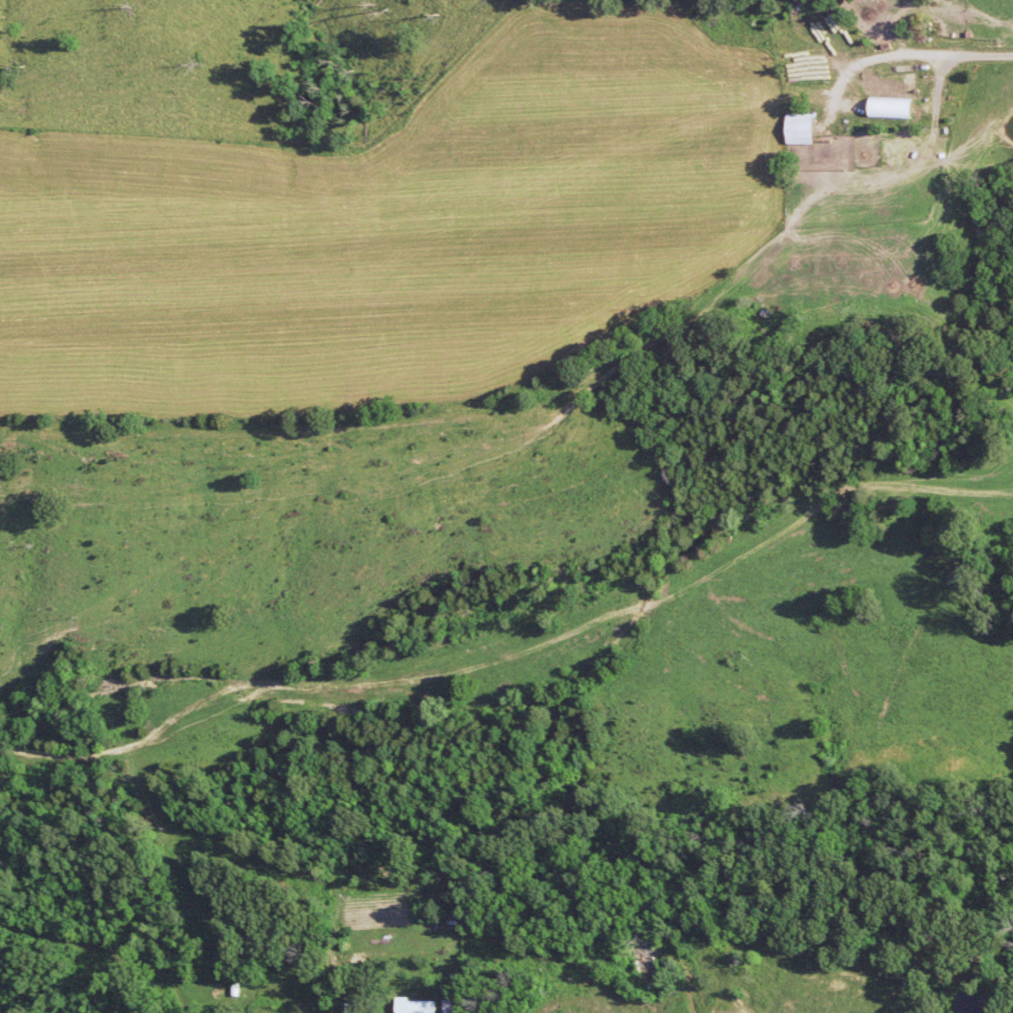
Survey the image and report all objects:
road: (923, 52)
building: (894, 108)
building: (803, 129)
road: (741, 954)
road: (785, 988)
building: (422, 1006)
building: (454, 1006)
road: (657, 1008)

